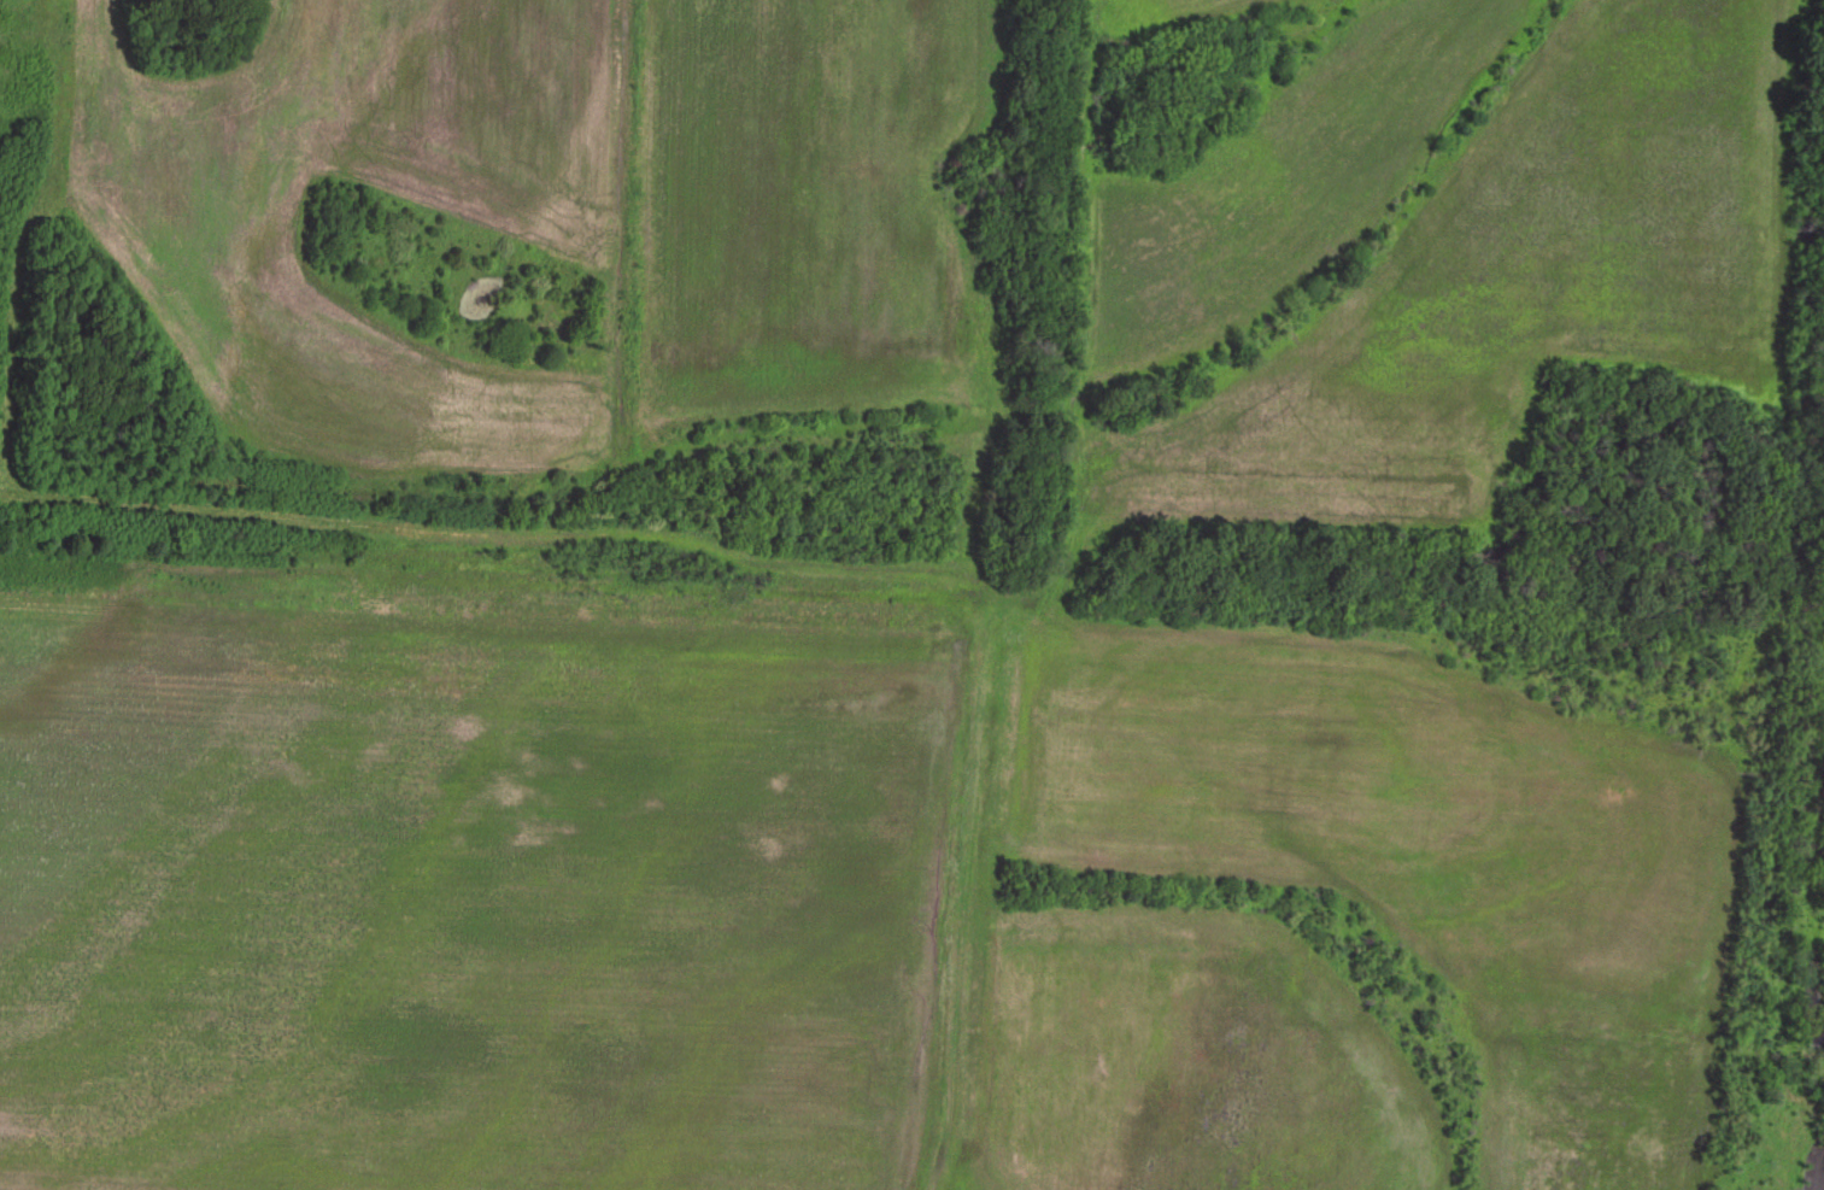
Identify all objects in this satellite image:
road: (1752, 552)

